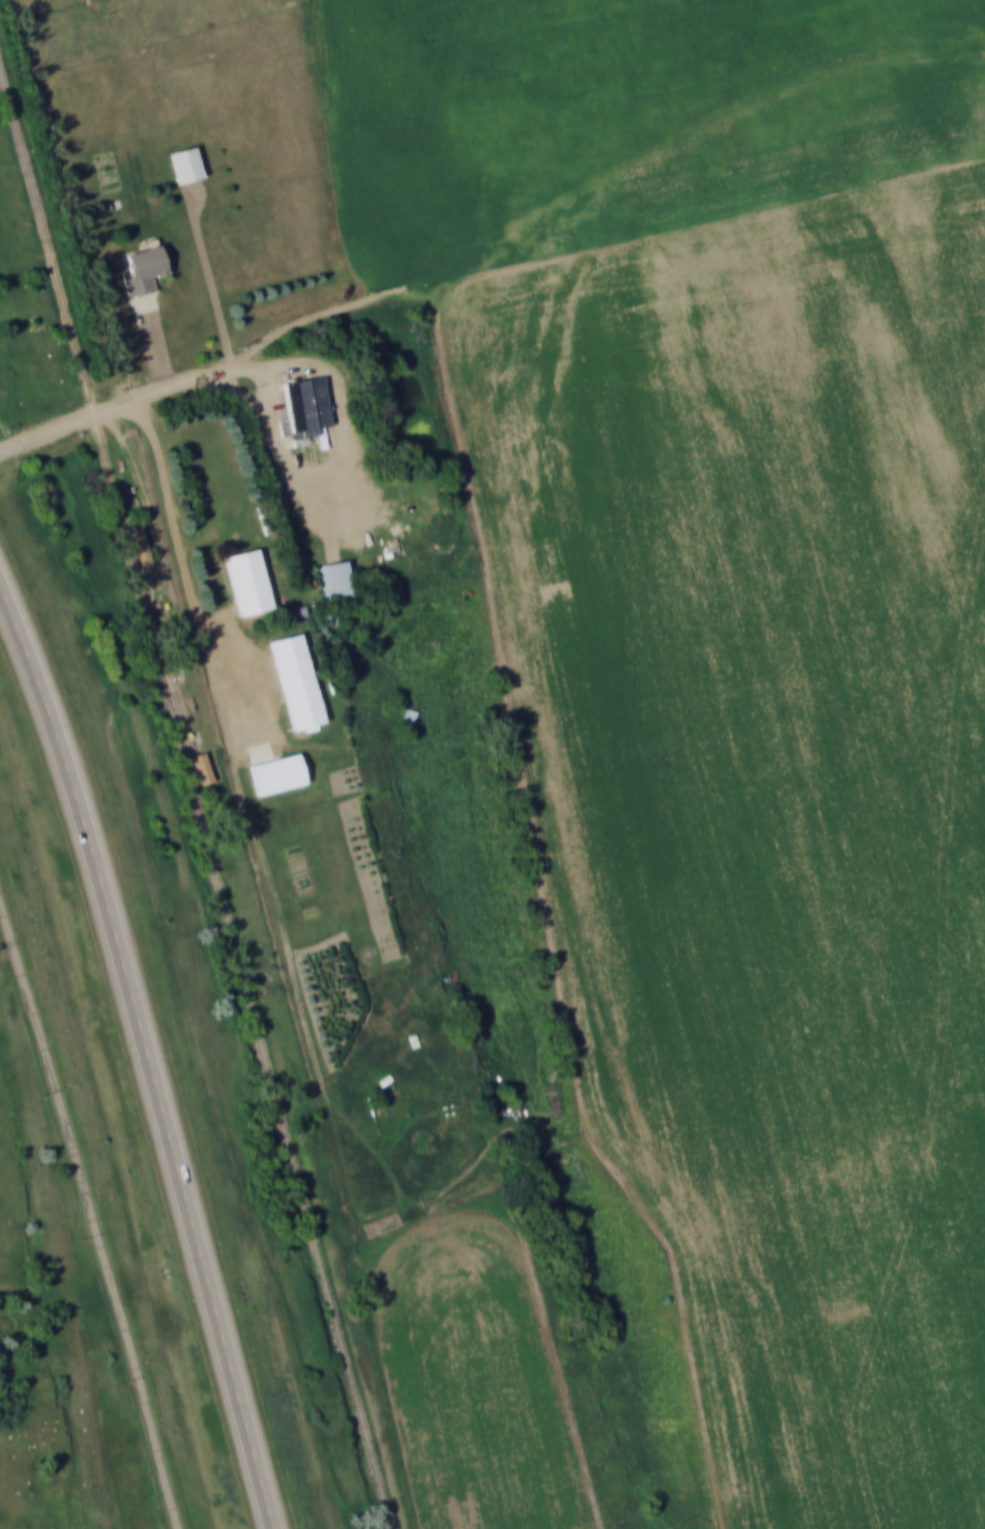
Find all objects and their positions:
building: (185, 163)
road: (598, 205)
building: (144, 270)
road: (108, 405)
building: (306, 407)
building: (140, 542)
building: (338, 578)
building: (248, 581)
building: (297, 680)
railway: (180, 713)
building: (409, 715)
building: (202, 766)
building: (277, 773)
railway: (195, 795)
road: (144, 1054)
road: (94, 1215)

